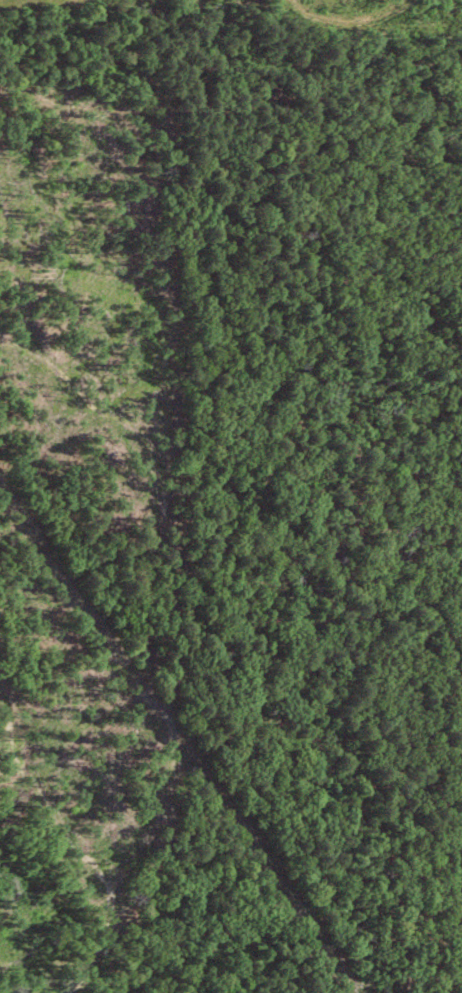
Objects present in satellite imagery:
road: (318, 327)
road: (254, 583)

